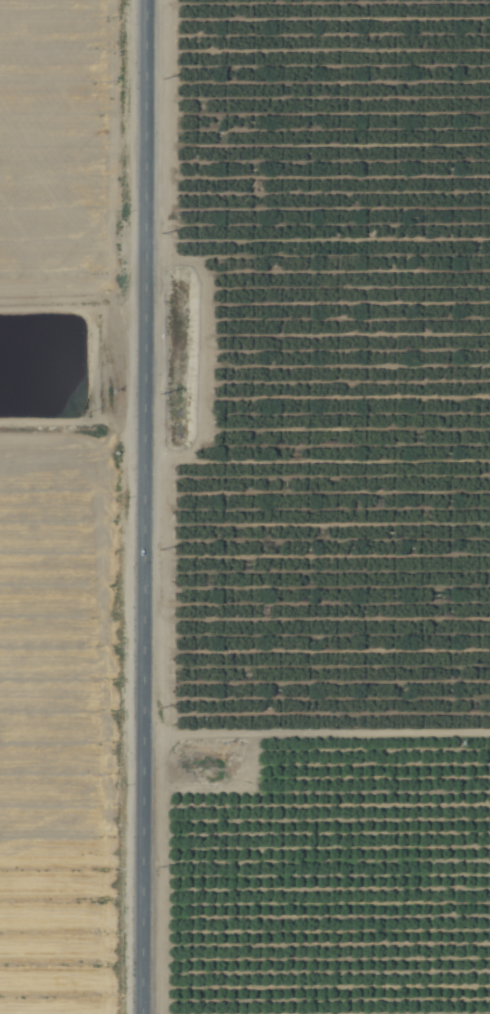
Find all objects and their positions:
road: (142, 507)
crop: (252, 512)

